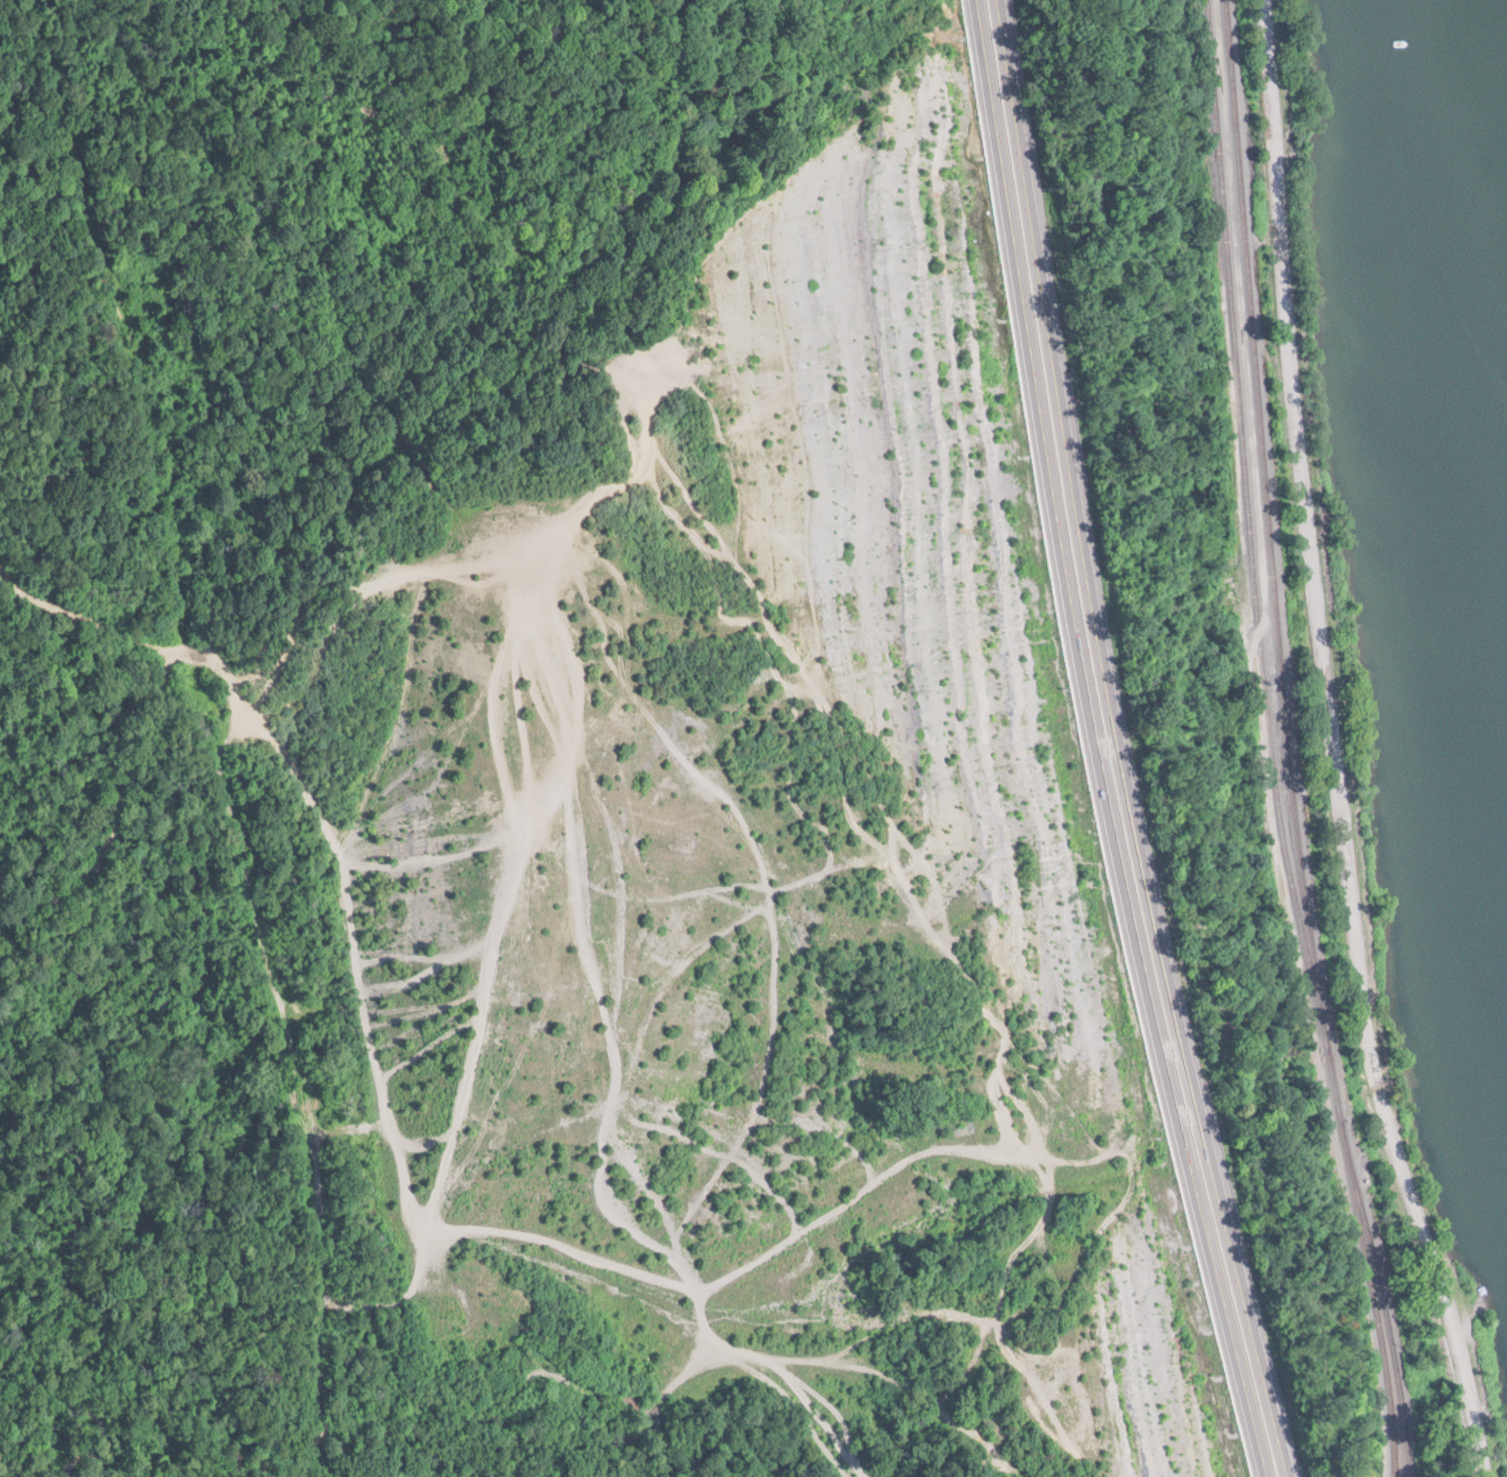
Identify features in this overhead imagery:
railway: (1248, 527)
railway: (1272, 566)
road: (1123, 742)
road: (1096, 743)
road: (1316, 746)
building: (755, 858)
building: (554, 1126)
railway: (1383, 1302)
railway: (1374, 1303)

